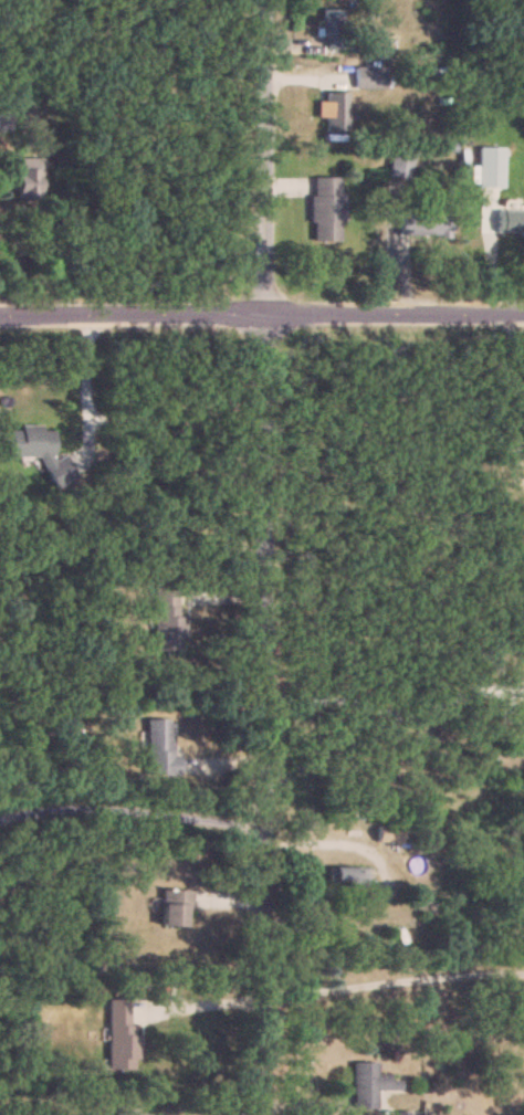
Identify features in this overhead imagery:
building: (334, 28)
building: (370, 77)
building: (334, 112)
building: (4, 120)
building: (400, 165)
building: (30, 177)
building: (326, 209)
building: (426, 220)
building: (512, 222)
road: (261, 316)
road: (87, 381)
road: (509, 398)
building: (41, 450)
road: (256, 557)
building: (169, 618)
road: (387, 712)
building: (160, 747)
road: (128, 808)
building: (389, 835)
building: (350, 875)
building: (175, 908)
road: (390, 980)
road: (197, 1002)
building: (123, 1035)
building: (370, 1084)

